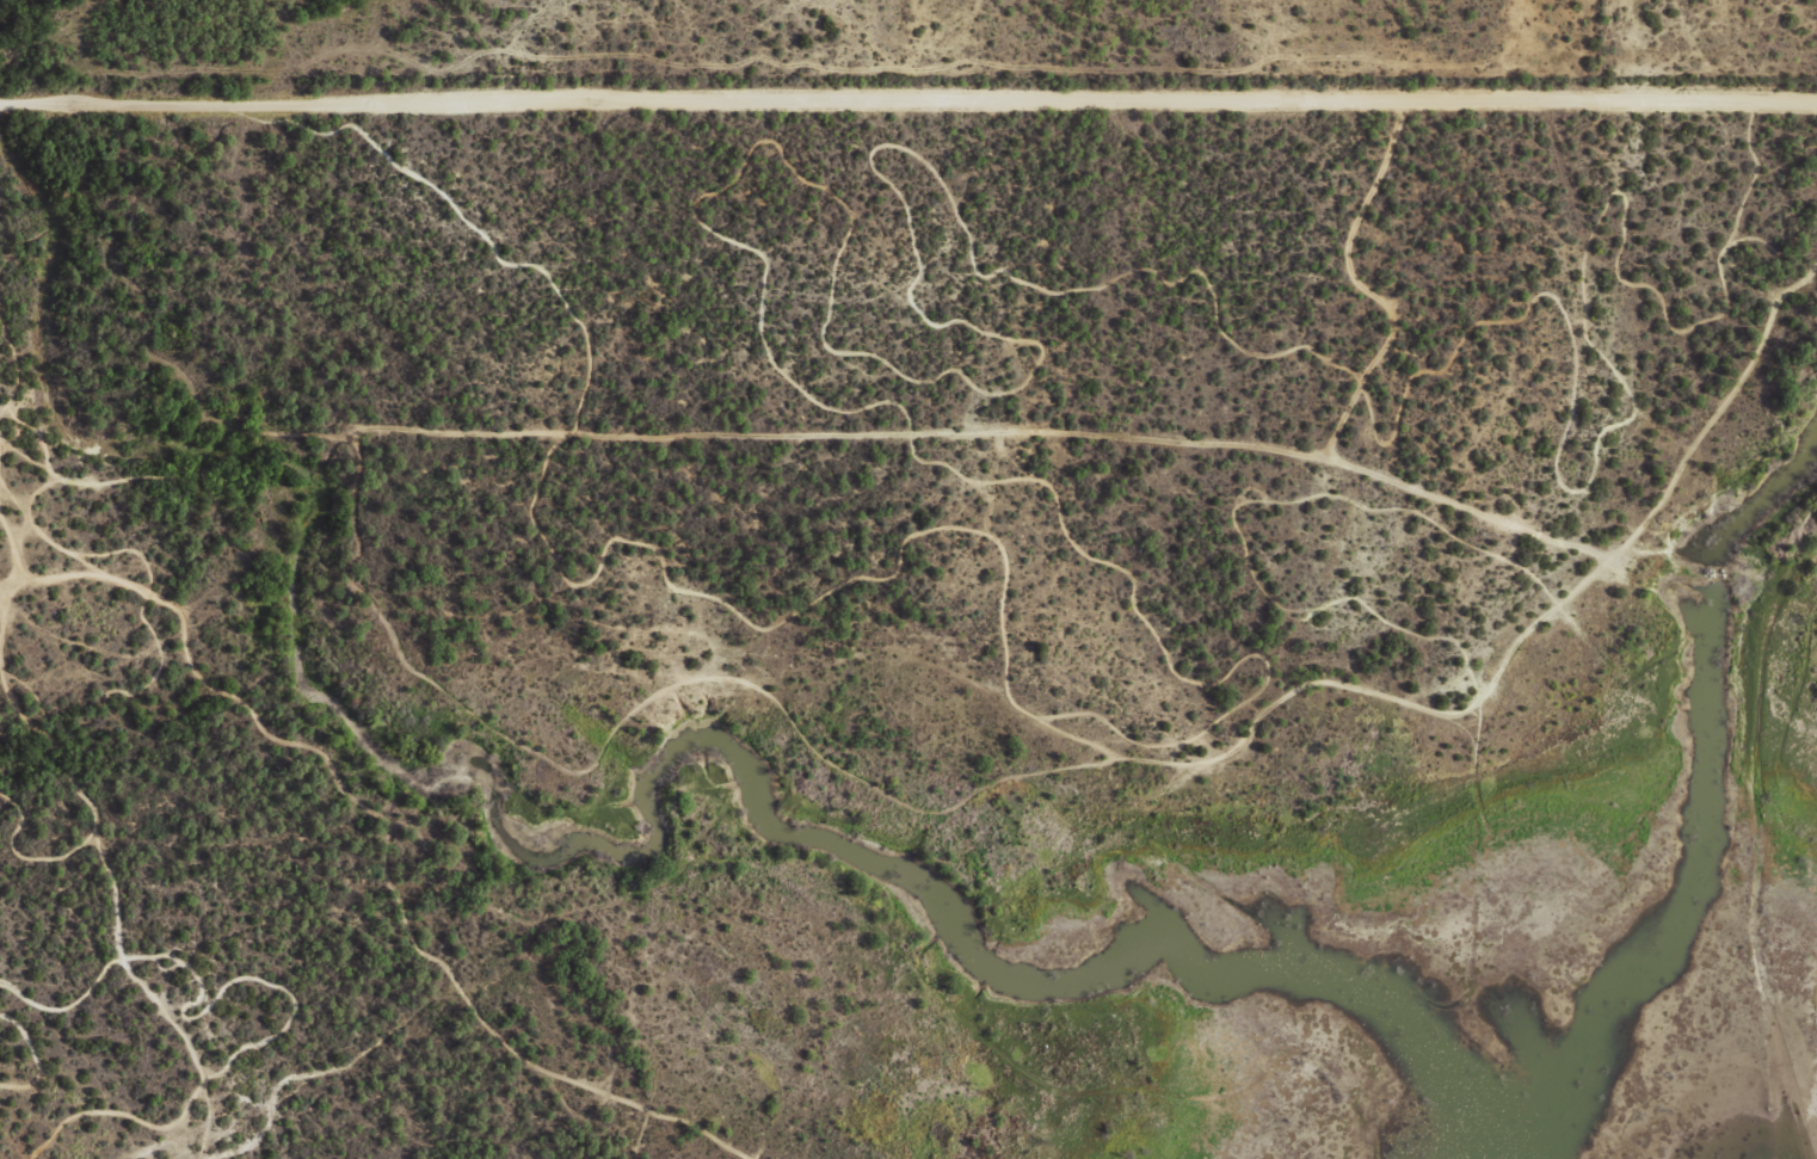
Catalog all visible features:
road: (908, 98)

